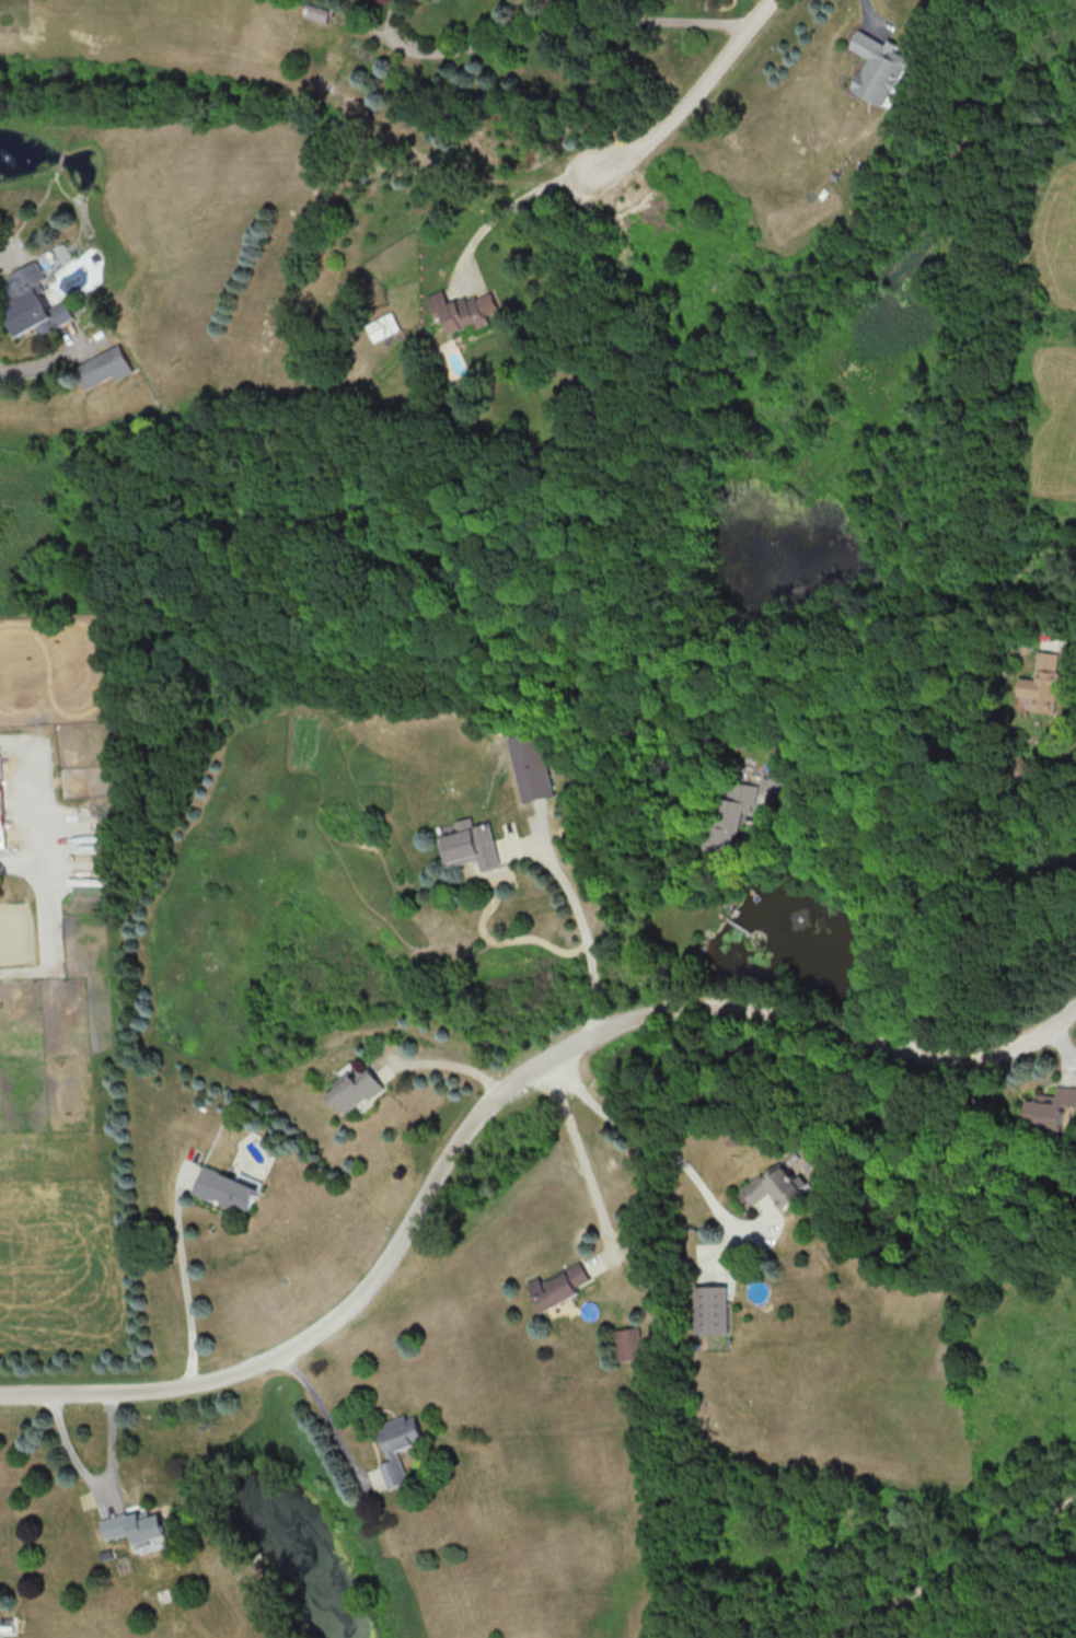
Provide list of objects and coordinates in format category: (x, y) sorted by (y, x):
building: (316, 12)
road: (875, 14)
road: (547, 28)
building: (878, 68)
road: (687, 98)
road: (508, 209)
road: (8, 263)
building: (31, 302)
building: (464, 310)
building: (381, 326)
building: (104, 367)
road: (1066, 638)
building: (1043, 683)
building: (531, 766)
building: (1, 812)
building: (734, 814)
building: (471, 845)
road: (898, 895)
road: (583, 937)
road: (449, 1059)
building: (352, 1088)
road: (496, 1101)
building: (1050, 1107)
road: (647, 1137)
road: (577, 1146)
building: (777, 1186)
building: (227, 1189)
building: (558, 1286)
road: (184, 1289)
building: (710, 1309)
building: (627, 1344)
road: (323, 1410)
building: (397, 1447)
road: (95, 1483)
building: (135, 1526)
park: (951, 1565)
road: (957, 1567)

